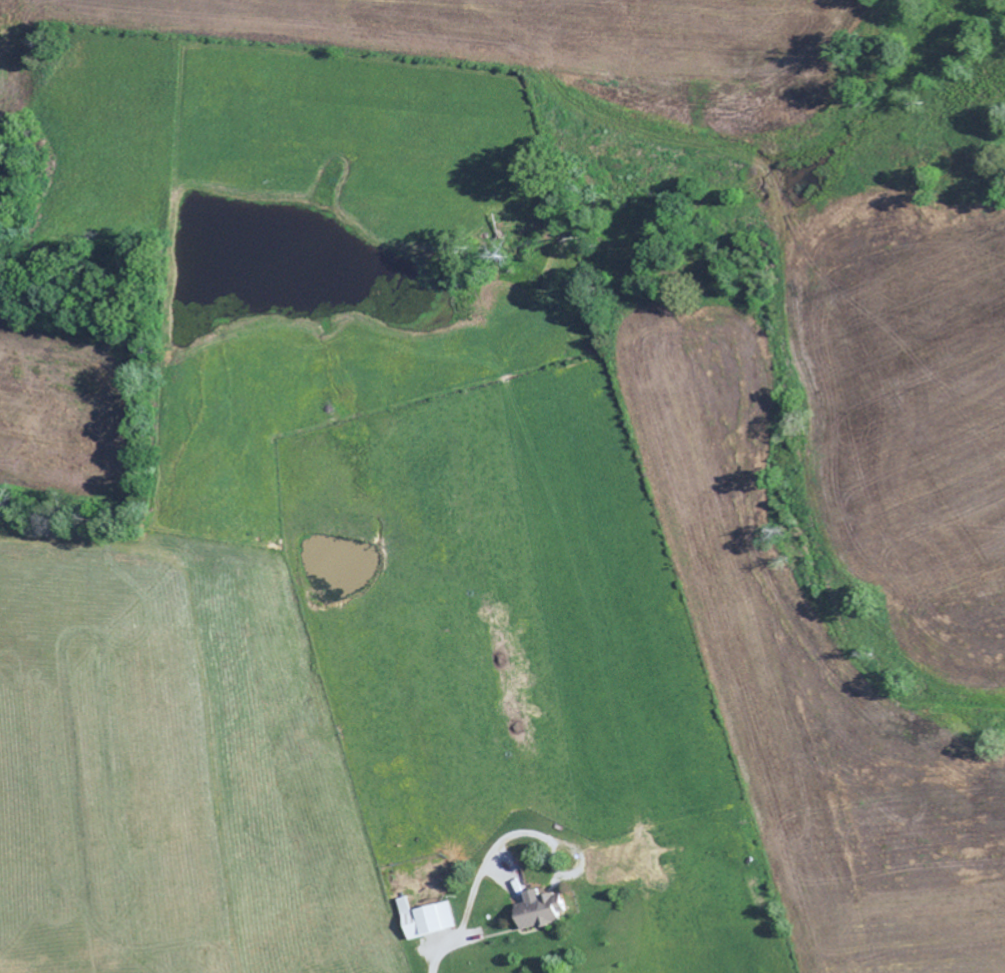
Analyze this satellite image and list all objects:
building: (548, 909)
building: (433, 918)
road: (445, 947)

